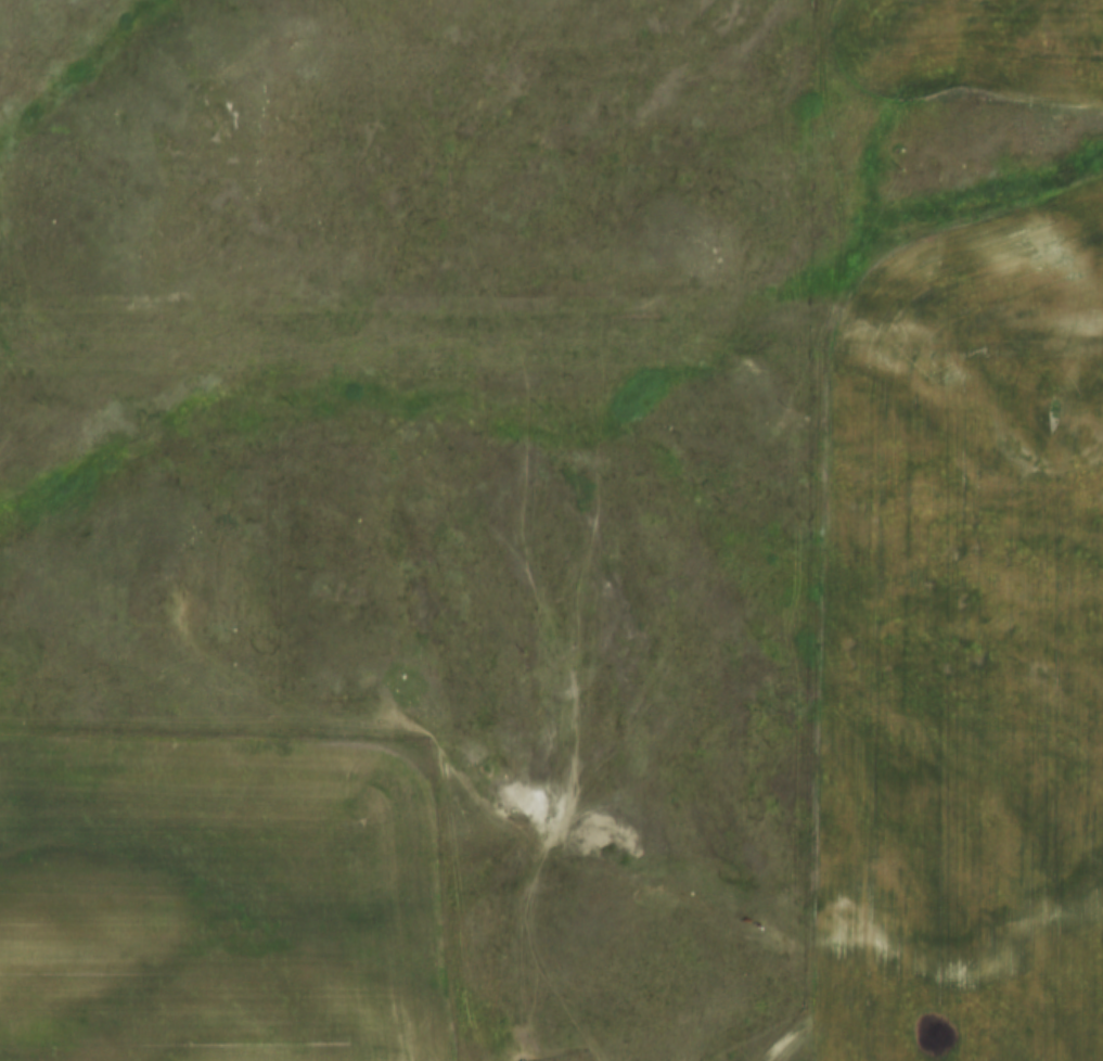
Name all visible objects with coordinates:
road: (785, 1040)

